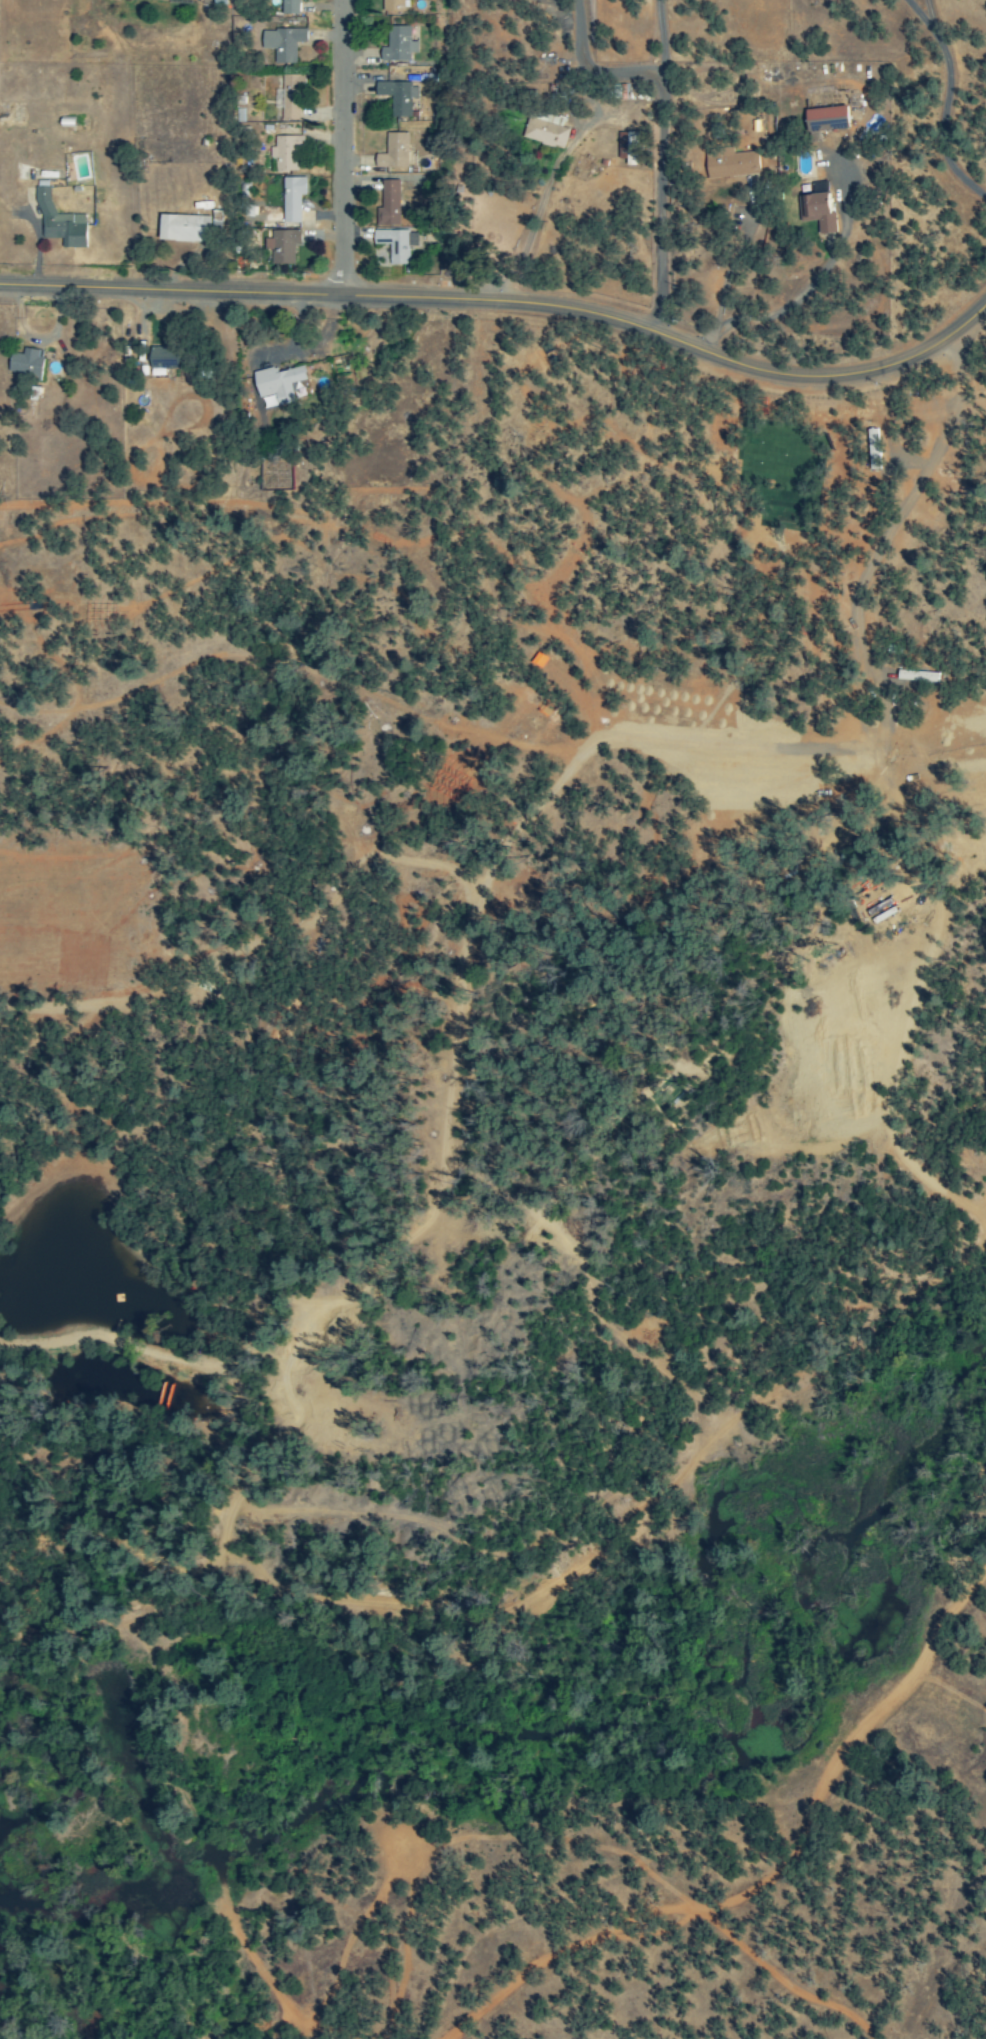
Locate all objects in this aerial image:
building: (154, 0)
building: (392, 5)
building: (289, 7)
building: (282, 44)
building: (397, 45)
building: (290, 96)
building: (398, 97)
road: (282, 116)
building: (825, 119)
building: (545, 130)
road: (343, 147)
building: (626, 148)
building: (393, 152)
building: (284, 154)
building: (730, 164)
road: (660, 165)
road: (129, 197)
building: (291, 199)
building: (388, 205)
building: (816, 212)
building: (59, 223)
building: (183, 229)
building: (396, 244)
building: (282, 246)
road: (792, 296)
road: (507, 299)
building: (162, 356)
building: (25, 363)
building: (277, 384)

